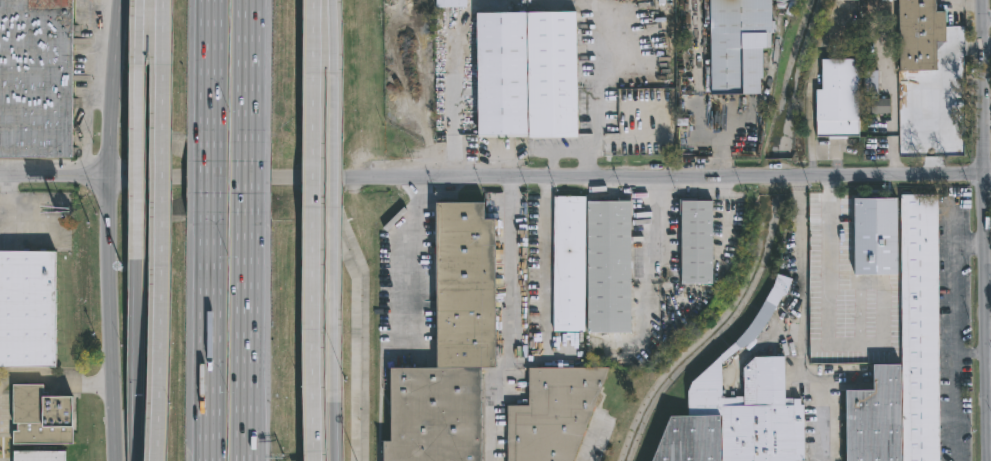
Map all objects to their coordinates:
building: (848, 0)
building: (447, 3)
road: (987, 18)
building: (923, 35)
building: (737, 45)
road: (213, 70)
road: (247, 71)
building: (522, 74)
building: (37, 79)
road: (984, 87)
road: (114, 88)
road: (596, 90)
building: (840, 99)
road: (139, 123)
road: (988, 173)
road: (492, 176)
road: (800, 181)
road: (212, 183)
road: (247, 183)
road: (800, 191)
road: (334, 195)
road: (828, 199)
road: (655, 221)
road: (721, 221)
road: (163, 230)
road: (314, 230)
building: (692, 242)
road: (545, 248)
road: (413, 261)
building: (589, 266)
road: (799, 275)
road: (831, 277)
building: (30, 313)
road: (987, 317)
road: (108, 319)
building: (917, 319)
road: (508, 326)
road: (247, 342)
road: (956, 342)
road: (212, 343)
building: (445, 346)
road: (137, 354)
road: (972, 355)
road: (55, 378)
road: (805, 380)
building: (737, 408)
building: (554, 413)
building: (42, 415)
road: (332, 425)
road: (823, 425)
building: (40, 455)

